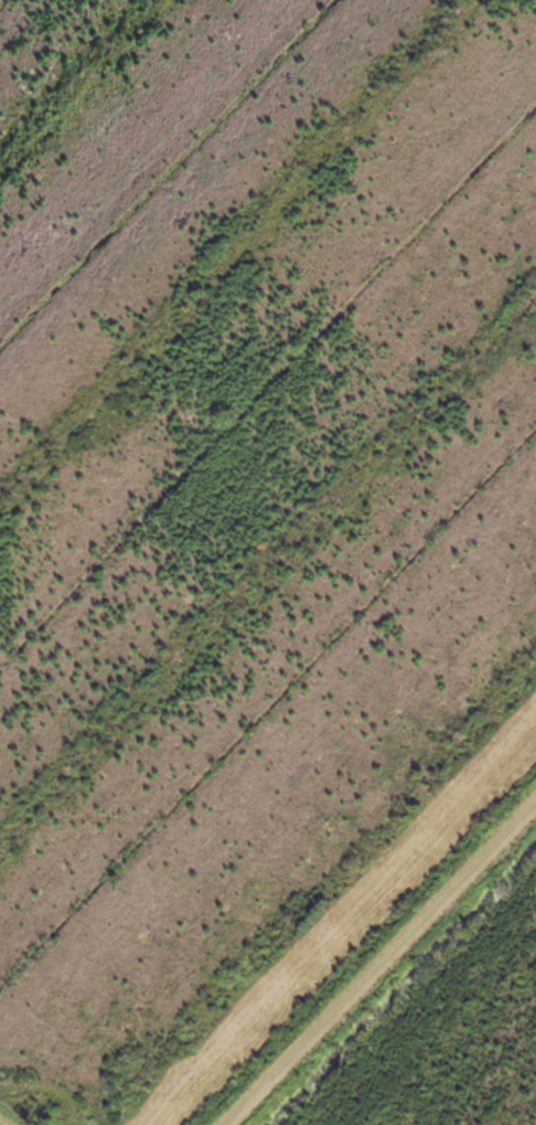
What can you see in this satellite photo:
road: (383, 966)
road: (4, 1122)

